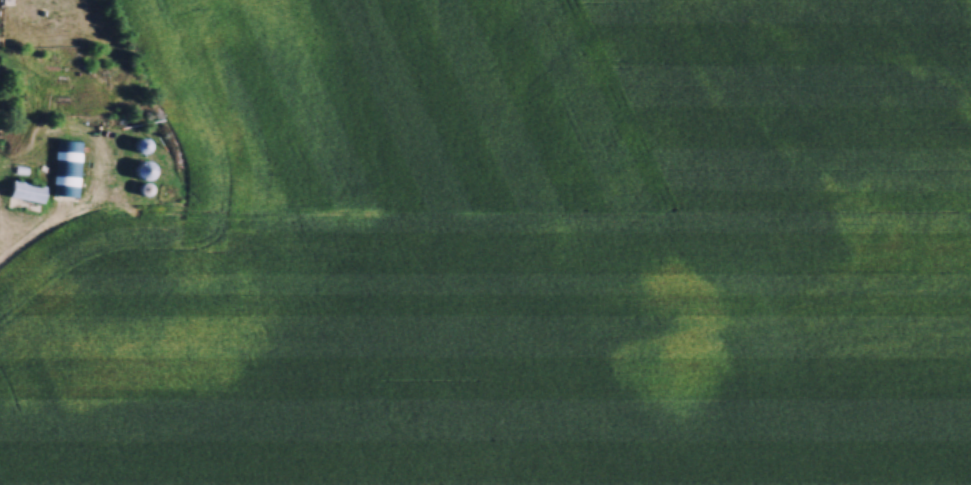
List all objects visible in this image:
building: (66, 163)
building: (141, 169)
building: (24, 190)

